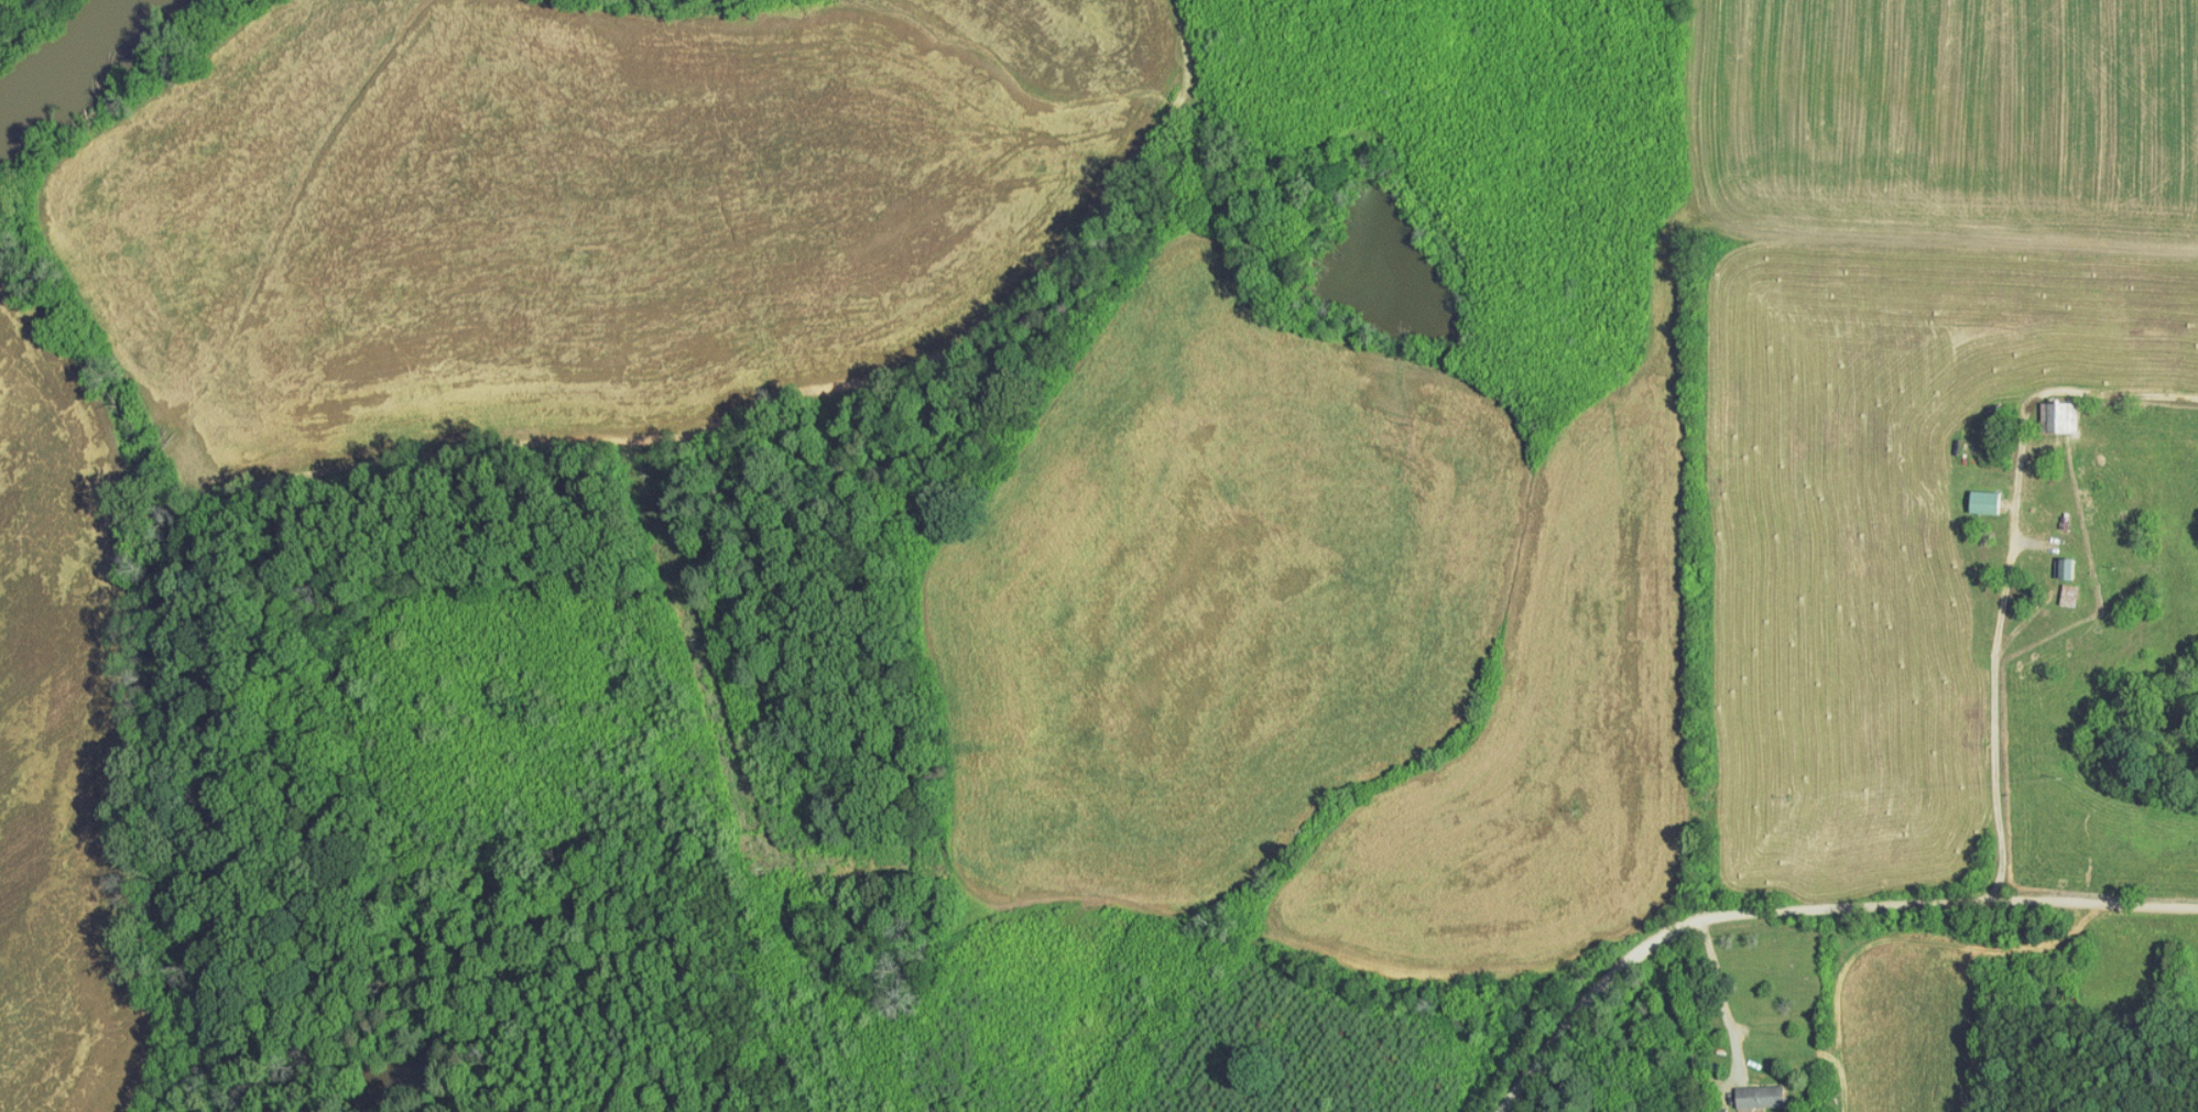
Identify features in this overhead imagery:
river: (63, 48)
building: (2049, 408)
building: (1970, 494)
building: (2054, 560)
road: (2011, 565)
road: (1806, 906)
road: (1151, 908)
road: (1722, 986)
building: (1744, 1089)

